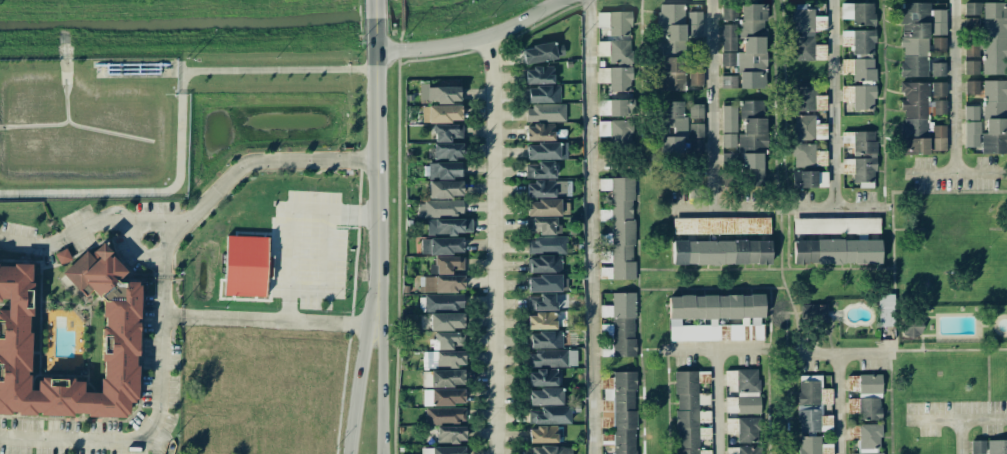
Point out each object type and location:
building: (858, 13)
building: (728, 14)
building: (972, 16)
building: (694, 24)
building: (670, 27)
building: (802, 34)
building: (615, 37)
building: (994, 38)
building: (920, 39)
road: (473, 41)
building: (938, 44)
building: (745, 50)
building: (971, 51)
building: (542, 52)
building: (971, 67)
road: (277, 69)
building: (858, 69)
building: (695, 72)
building: (671, 74)
building: (538, 75)
road: (180, 78)
building: (615, 78)
road: (955, 86)
building: (972, 87)
building: (440, 94)
building: (543, 94)
building: (807, 99)
road: (715, 101)
road: (835, 102)
building: (613, 107)
building: (444, 113)
building: (545, 113)
building: (919, 113)
building: (971, 113)
building: (994, 117)
building: (728, 126)
building: (671, 128)
building: (695, 128)
building: (615, 130)
building: (446, 132)
building: (539, 132)
building: (971, 134)
road: (375, 135)
building: (938, 137)
building: (752, 139)
building: (803, 140)
building: (446, 150)
building: (546, 151)
building: (859, 156)
building: (444, 170)
building: (540, 170)
road: (956, 174)
building: (809, 179)
road: (226, 181)
building: (545, 188)
building: (445, 189)
road: (135, 192)
road: (721, 202)
road: (836, 204)
building: (547, 207)
building: (439, 208)
road: (354, 214)
road: (158, 220)
building: (543, 225)
building: (721, 225)
building: (836, 225)
building: (448, 226)
road: (592, 227)
building: (620, 228)
road: (65, 237)
building: (546, 245)
road: (494, 246)
road: (292, 247)
building: (836, 251)
building: (721, 252)
building: (62, 256)
building: (448, 264)
building: (543, 264)
building: (246, 266)
road: (330, 272)
building: (543, 283)
building: (441, 284)
building: (443, 302)
building: (541, 302)
building: (885, 310)
building: (813, 313)
road: (367, 314)
building: (715, 318)
road: (224, 319)
building: (446, 321)
building: (541, 321)
road: (327, 323)
building: (621, 324)
building: (912, 326)
road: (378, 335)
building: (447, 340)
building: (545, 340)
building: (119, 343)
road: (717, 353)
road: (838, 357)
building: (447, 359)
building: (548, 365)
building: (447, 378)
building: (742, 391)
building: (447, 396)
building: (545, 396)
building: (864, 396)
building: (811, 402)
road: (718, 404)
road: (840, 405)
road: (355, 406)
road: (956, 410)
building: (688, 412)
building: (619, 413)
building: (444, 415)
building: (548, 415)
road: (155, 419)
road: (380, 427)
building: (744, 428)
building: (704, 432)
road: (962, 432)
building: (451, 434)
building: (542, 434)
building: (864, 439)
building: (813, 446)
building: (989, 447)
building: (448, 450)
building: (550, 450)
building: (743, 450)

